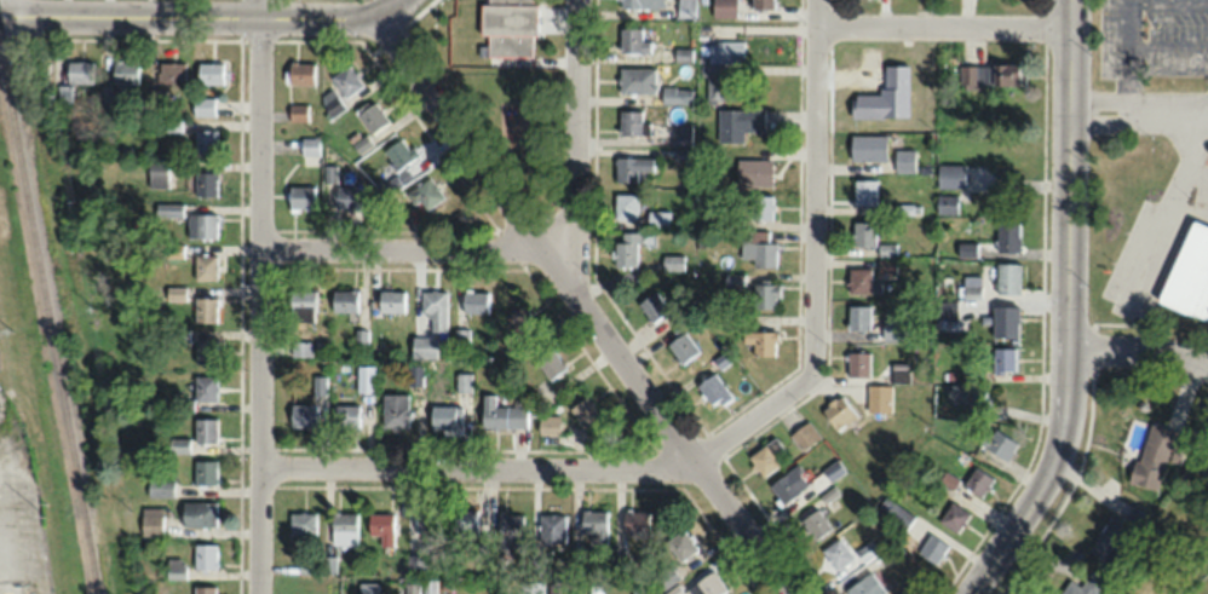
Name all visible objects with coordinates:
building: (761, 2)
building: (640, 4)
road: (386, 7)
building: (724, 7)
building: (686, 8)
road: (189, 16)
building: (512, 21)
road: (1131, 25)
road: (942, 27)
parking lot: (1154, 34)
building: (633, 39)
building: (684, 53)
road: (1169, 53)
road: (1068, 64)
building: (712, 70)
building: (79, 71)
building: (126, 71)
building: (209, 71)
building: (171, 73)
building: (300, 73)
building: (991, 74)
building: (637, 79)
building: (346, 80)
road: (1129, 82)
building: (675, 94)
power tower: (52, 96)
building: (333, 104)
building: (203, 105)
building: (869, 105)
building: (298, 111)
road: (1126, 113)
building: (370, 115)
road: (1167, 119)
building: (629, 121)
building: (737, 121)
road: (1207, 125)
road: (1207, 126)
building: (683, 133)
building: (205, 140)
building: (310, 145)
building: (867, 146)
road: (575, 150)
building: (396, 160)
building: (904, 160)
building: (631, 166)
building: (753, 171)
building: (157, 173)
building: (950, 174)
building: (206, 183)
building: (864, 191)
building: (426, 194)
building: (301, 196)
building: (347, 196)
building: (945, 203)
power tower: (75, 204)
building: (625, 206)
building: (759, 206)
road: (1167, 215)
building: (658, 218)
building: (201, 224)
building: (863, 232)
building: (1007, 236)
building: (758, 247)
building: (626, 249)
building: (886, 249)
road: (403, 255)
road: (812, 260)
building: (673, 263)
building: (205, 266)
building: (1189, 273)
building: (1007, 277)
building: (734, 279)
building: (862, 281)
building: (766, 295)
road: (260, 296)
building: (301, 300)
building: (344, 300)
building: (390, 301)
building: (473, 301)
road: (580, 306)
building: (652, 306)
building: (435, 307)
building: (203, 308)
power tower: (94, 311)
building: (858, 317)
building: (520, 321)
building: (1005, 321)
railway: (47, 327)
building: (893, 328)
power tower: (13, 331)
building: (461, 339)
building: (761, 341)
building: (422, 346)
building: (299, 347)
building: (681, 347)
building: (203, 350)
road: (1139, 351)
building: (1003, 358)
building: (550, 362)
building: (858, 363)
building: (414, 375)
road: (1068, 375)
building: (364, 377)
building: (462, 381)
building: (318, 383)
building: (205, 387)
building: (713, 391)
building: (967, 396)
building: (879, 398)
building: (582, 408)
building: (395, 410)
building: (839, 411)
building: (501, 414)
building: (301, 415)
building: (346, 415)
building: (445, 415)
building: (548, 423)
building: (203, 428)
building: (805, 434)
building: (1000, 444)
building: (765, 456)
building: (1154, 456)
road: (476, 466)
building: (203, 471)
building: (978, 481)
building: (789, 484)
building: (159, 488)
building: (197, 513)
building: (895, 513)
building: (954, 517)
power tower: (50, 518)
building: (427, 519)
building: (464, 519)
building: (150, 520)
building: (637, 520)
building: (301, 523)
building: (815, 524)
building: (381, 526)
building: (596, 526)
building: (343, 527)
building: (553, 527)
building: (511, 529)
building: (1117, 535)
building: (681, 544)
building: (933, 548)
building: (868, 550)
building: (838, 554)
building: (203, 555)
building: (416, 563)
building: (174, 567)
building: (667, 577)
building: (430, 586)
building: (867, 586)
building: (367, 587)
building: (412, 587)
building: (531, 587)

